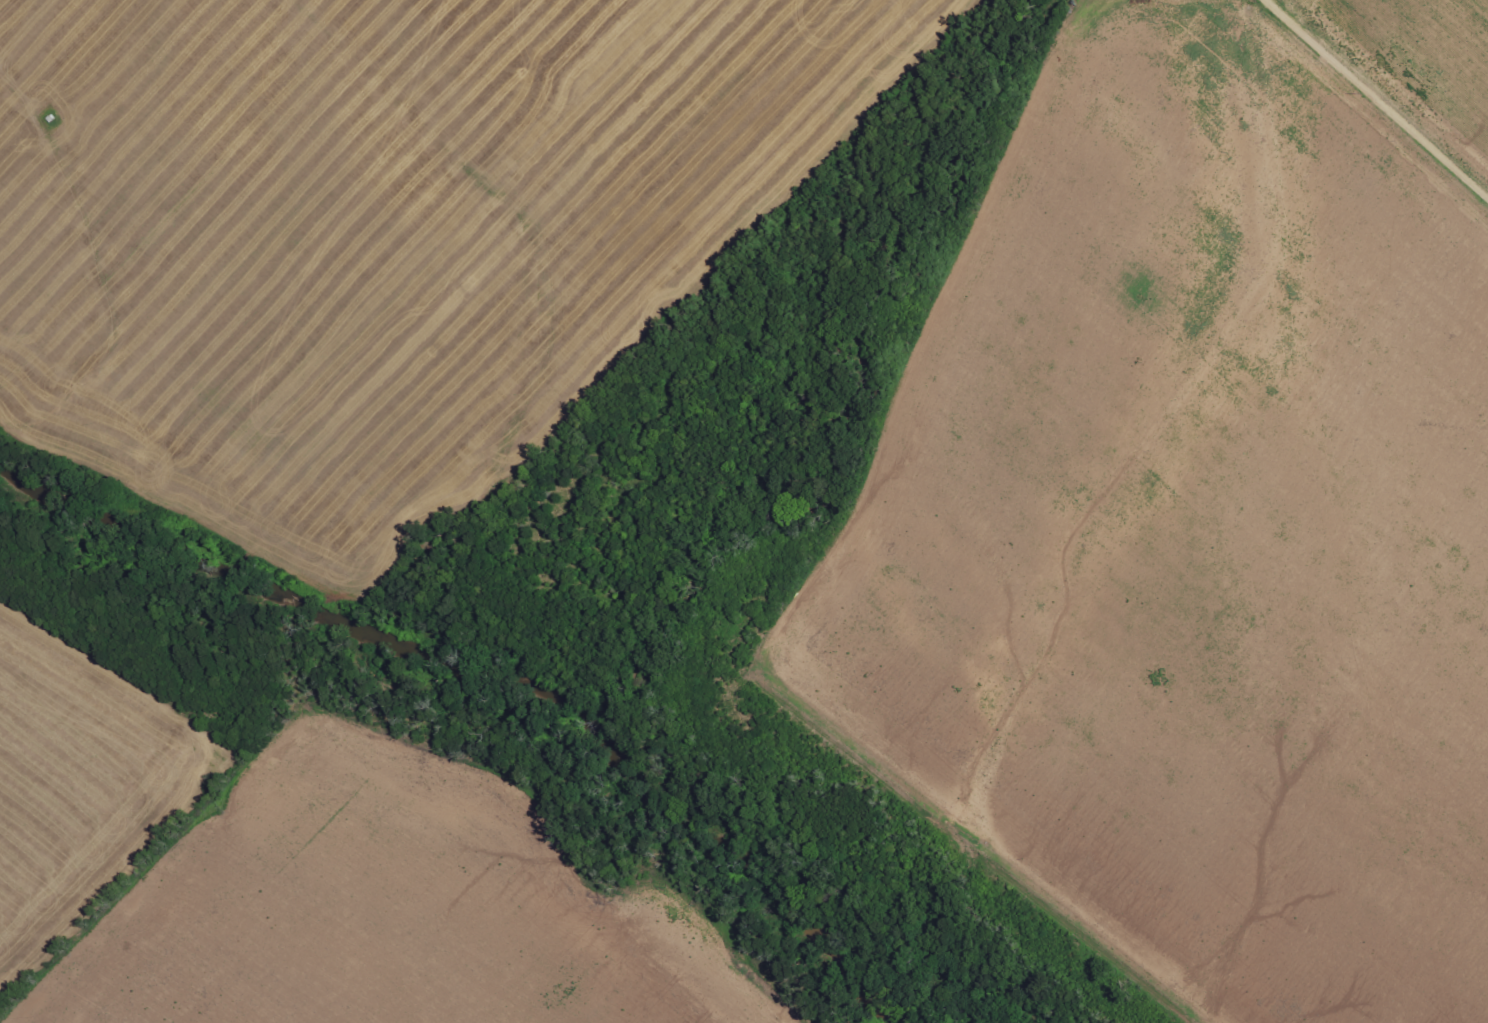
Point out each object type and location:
road: (1364, 109)

